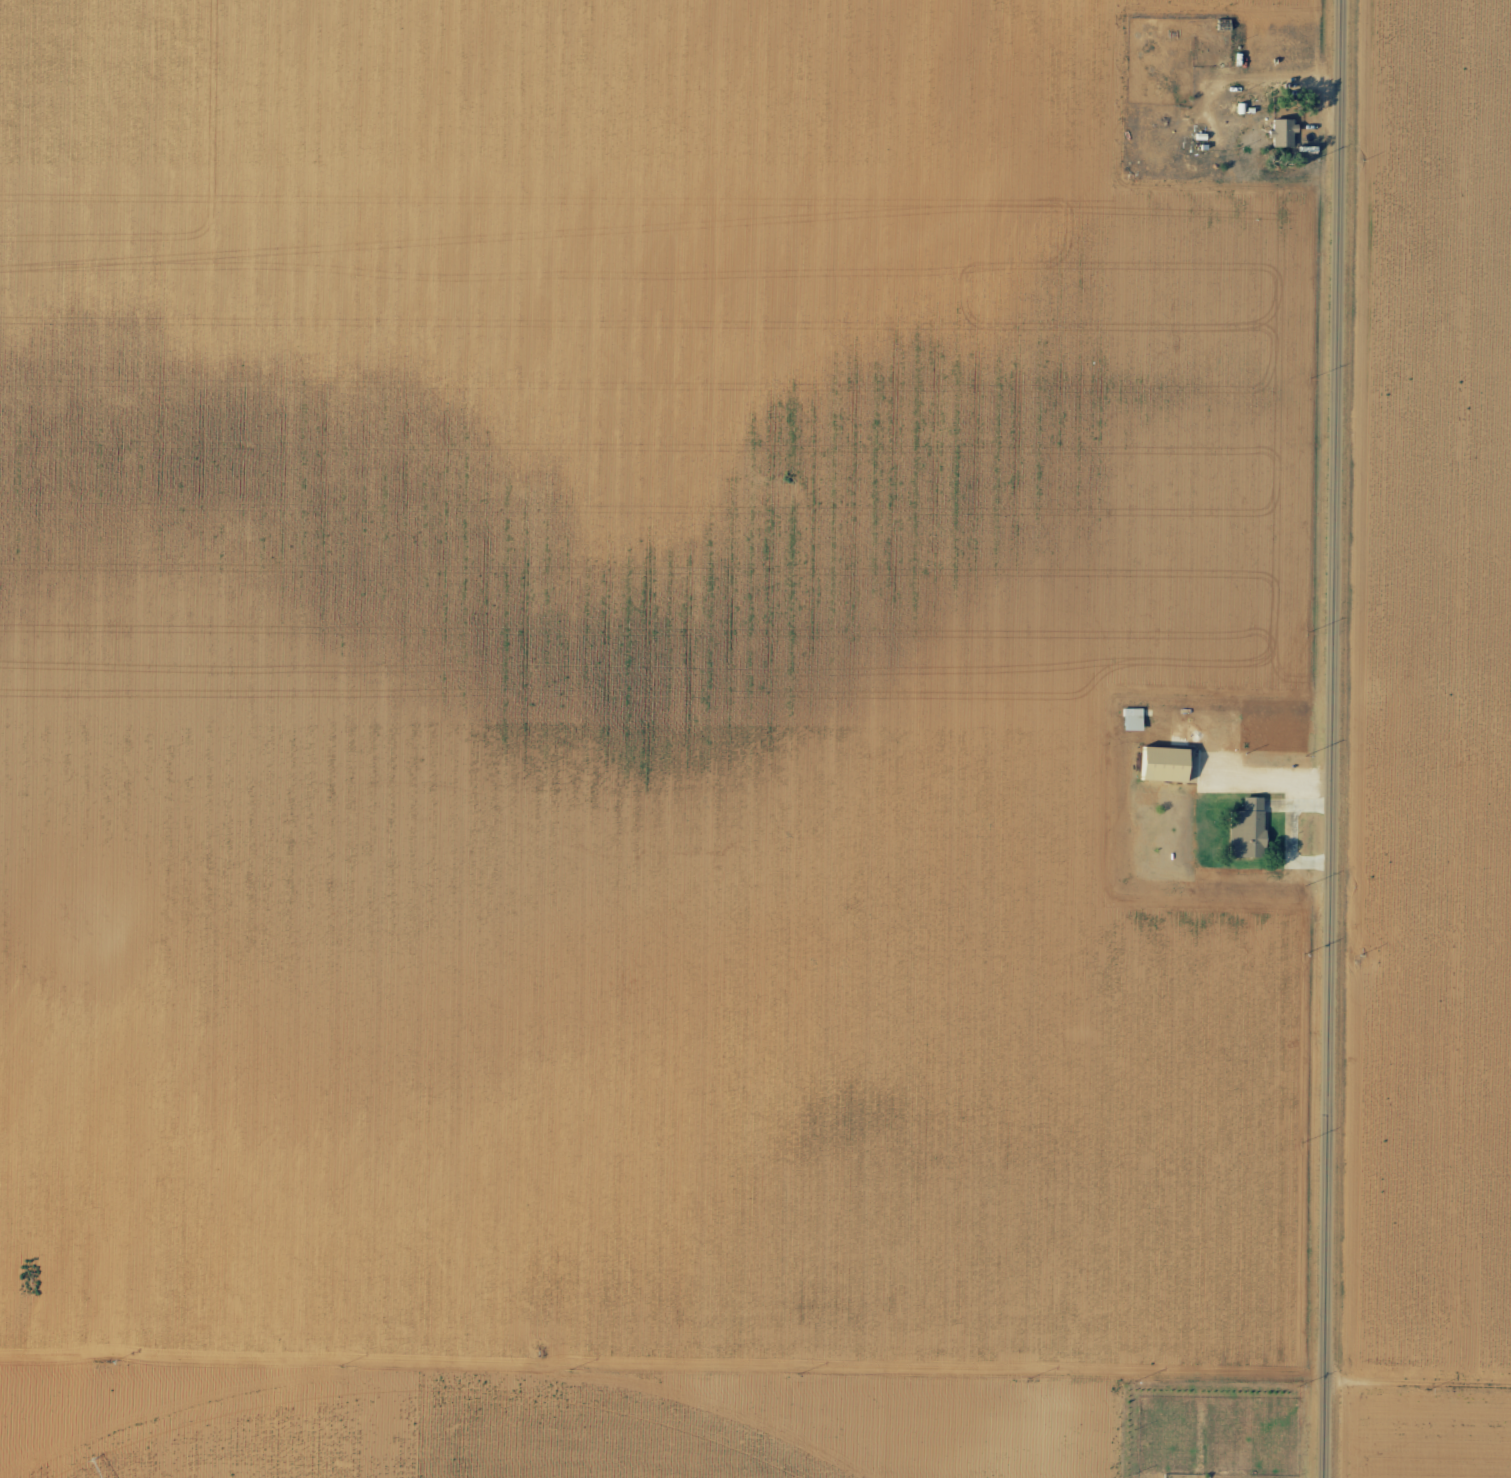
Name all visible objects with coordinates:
building: (1280, 132)
road: (670, 383)
road: (1338, 738)
building: (1161, 763)
road: (1430, 1013)
road: (11, 1387)
road: (742, 1399)
road: (479, 1437)
road: (650, 1438)

